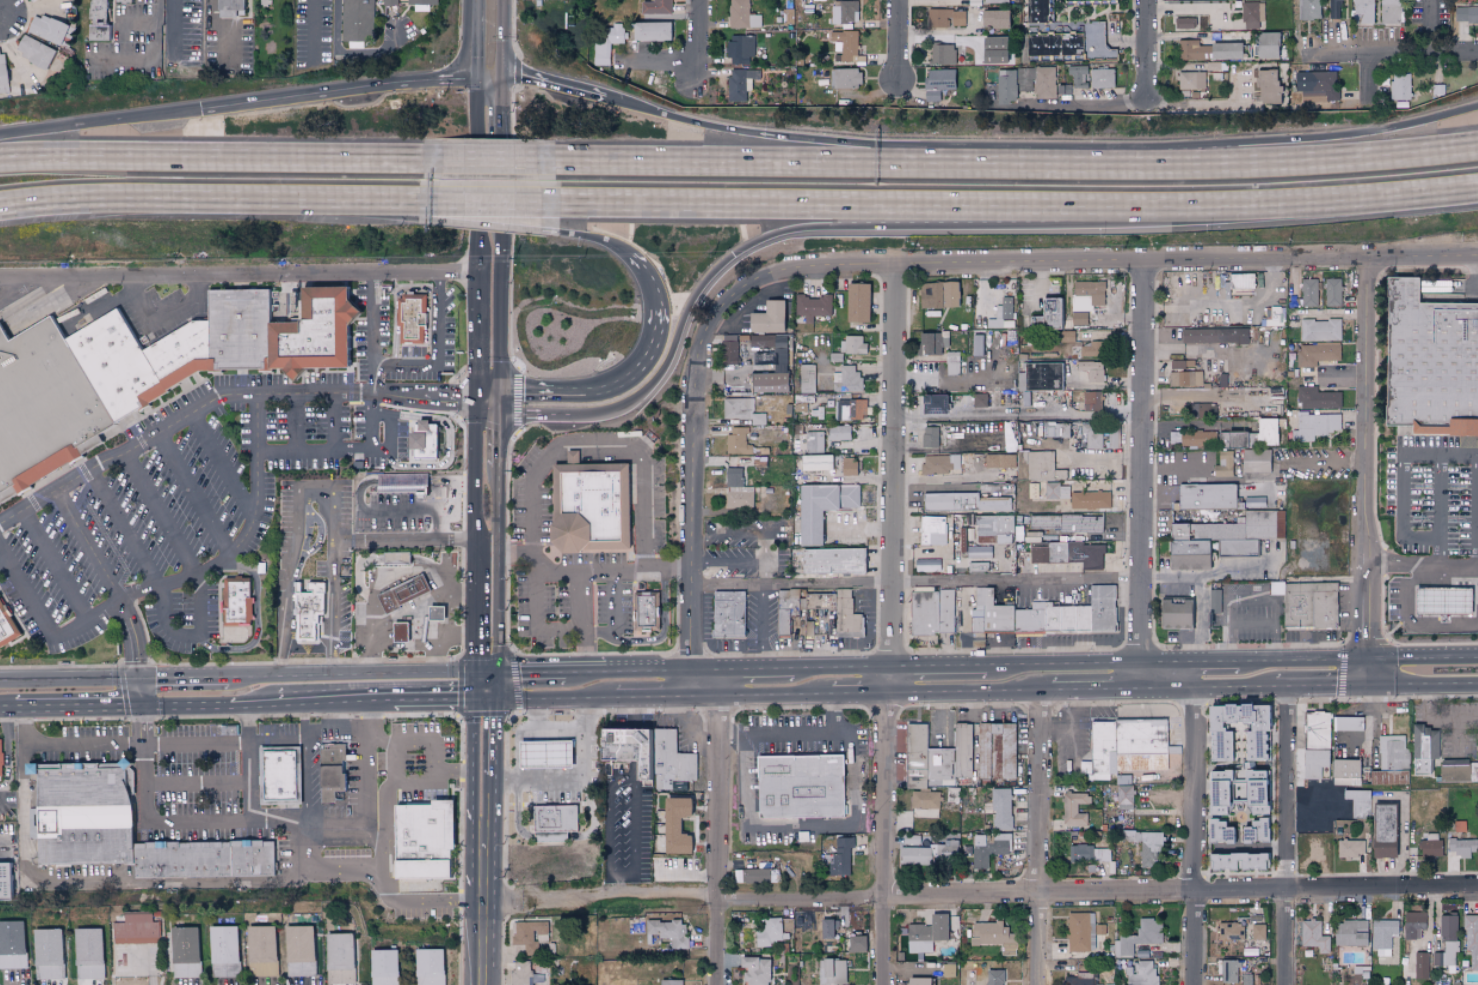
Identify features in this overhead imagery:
building: (942, 0)
building: (1083, 0)
building: (31, 1)
building: (124, 1)
building: (995, 1)
building: (422, 2)
building: (389, 3)
building: (227, 7)
building: (655, 7)
road: (1183, 9)
building: (1333, 9)
building: (1308, 10)
building: (1035, 11)
building: (843, 12)
building: (1377, 12)
building: (741, 15)
building: (1251, 15)
building: (1467, 15)
building: (945, 18)
building: (994, 19)
building: (357, 20)
building: (98, 22)
road: (138, 23)
building: (1184, 23)
parking lot: (1427, 24)
building: (565, 26)
road: (1430, 27)
building: (46, 29)
road: (231, 29)
building: (650, 32)
road: (314, 33)
road: (172, 35)
road: (490, 37)
road: (698, 40)
road: (897, 40)
building: (1095, 41)
building: (607, 42)
building: (1070, 44)
building: (845, 45)
building: (988, 45)
building: (1042, 45)
road: (1144, 46)
building: (1266, 46)
building: (1194, 47)
building: (1179, 48)
building: (740, 49)
building: (34, 51)
building: (1224, 51)
building: (942, 55)
road: (1391, 55)
road: (348, 56)
road: (153, 59)
building: (2, 72)
building: (1078, 76)
building: (1101, 78)
building: (845, 79)
building: (1024, 79)
building: (1190, 80)
building: (1044, 82)
building: (937, 83)
building: (739, 84)
building: (1317, 84)
building: (1005, 86)
building: (1266, 87)
building: (1399, 87)
building: (1064, 89)
road: (345, 91)
road: (1102, 104)
road: (1207, 107)
road: (100, 123)
road: (502, 124)
road: (780, 137)
road: (1328, 138)
road: (229, 159)
road: (489, 161)
road: (1328, 161)
road: (798, 163)
road: (1128, 164)
road: (475, 169)
road: (1473, 190)
road: (1473, 190)
road: (153, 196)
road: (384, 199)
road: (489, 200)
road: (1279, 202)
road: (803, 203)
road: (385, 209)
road: (493, 222)
road: (789, 232)
road: (574, 235)
road: (1144, 262)
road: (238, 275)
road: (647, 277)
building: (1243, 280)
road: (502, 286)
road: (18, 289)
road: (1041, 289)
building: (1332, 291)
building: (1308, 292)
building: (938, 293)
building: (1087, 295)
building: (856, 301)
road: (746, 302)
building: (812, 306)
road: (1225, 306)
building: (1006, 307)
road: (398, 309)
building: (1047, 313)
road: (161, 315)
building: (766, 316)
building: (1274, 316)
building: (413, 318)
building: (1078, 318)
road: (439, 320)
road: (477, 330)
building: (1320, 330)
parking lot: (443, 332)
road: (373, 333)
building: (1214, 335)
building: (1059, 336)
building: (762, 341)
building: (931, 342)
building: (852, 344)
building: (977, 344)
building: (1090, 349)
building: (729, 350)
building: (1317, 354)
building: (952, 363)
building: (1177, 364)
building: (1433, 364)
road: (407, 367)
road: (641, 367)
building: (1091, 370)
building: (144, 373)
building: (1040, 376)
building: (807, 378)
building: (846, 378)
building: (1184, 378)
building: (769, 379)
road: (537, 391)
road: (431, 395)
building: (1316, 398)
building: (979, 400)
building: (1087, 400)
road: (489, 403)
building: (932, 403)
building: (852, 408)
building: (1203, 409)
building: (741, 410)
road: (532, 416)
road: (1018, 418)
road: (336, 422)
road: (176, 423)
road: (296, 423)
building: (1317, 427)
building: (1055, 429)
building: (838, 432)
road: (372, 434)
building: (420, 435)
building: (1091, 435)
building: (1112, 435)
building: (1252, 435)
building: (929, 436)
building: (1192, 438)
road: (389, 440)
building: (737, 440)
building: (811, 441)
road: (489, 442)
road: (695, 449)
road: (297, 453)
building: (1000, 460)
building: (1255, 460)
road: (1369, 460)
building: (814, 461)
building: (939, 464)
building: (1223, 464)
building: (1036, 465)
building: (848, 466)
road: (1332, 466)
road: (222, 468)
road: (1142, 475)
building: (733, 477)
road: (893, 477)
road: (1402, 479)
road: (533, 481)
building: (411, 484)
road: (316, 488)
road: (952, 489)
building: (1056, 491)
road: (193, 496)
building: (1207, 498)
building: (739, 499)
building: (1089, 499)
building: (1253, 502)
building: (952, 504)
building: (821, 506)
road: (417, 508)
building: (591, 508)
road: (1439, 512)
road: (161, 514)
building: (1021, 521)
building: (1068, 522)
road: (488, 524)
building: (994, 524)
road: (125, 528)
road: (859, 528)
building: (932, 530)
road: (753, 536)
building: (1031, 536)
road: (297, 537)
building: (986, 538)
building: (1220, 538)
road: (411, 540)
road: (89, 545)
road: (510, 554)
building: (1069, 554)
building: (395, 557)
building: (832, 560)
road: (221, 562)
road: (730, 564)
road: (6, 565)
road: (56, 567)
building: (974, 567)
road: (1423, 568)
road: (335, 570)
road: (435, 573)
road: (992, 580)
building: (1258, 587)
road: (468, 588)
road: (28, 590)
building: (402, 592)
road: (1254, 598)
building: (1214, 600)
building: (1440, 600)
building: (238, 602)
gas station: (1445, 602)
road: (203, 603)
building: (799, 605)
building: (1311, 608)
building: (1104, 610)
building: (930, 611)
building: (433, 612)
building: (648, 612)
building: (845, 612)
building: (308, 614)
building: (1178, 614)
building: (730, 616)
building: (997, 616)
building: (1217, 619)
road: (582, 620)
building: (1053, 620)
building: (1068, 620)
building: (1083, 620)
road: (1200, 620)
building: (1029, 621)
road: (1254, 624)
road: (167, 625)
road: (764, 625)
road: (1414, 625)
building: (7, 626)
road: (488, 627)
road: (283, 628)
building: (808, 628)
building: (397, 631)
road: (574, 633)
road: (468, 636)
road: (135, 637)
road: (437, 658)
road: (1423, 658)
traffic signals: (1368, 660)
road: (1302, 661)
road: (334, 662)
road: (1188, 662)
road: (1064, 663)
road: (939, 665)
road: (843, 666)
road: (744, 667)
road: (648, 668)
road: (584, 669)
road: (526, 671)
traffic signals: (488, 672)
road: (357, 673)
road: (1368, 674)
road: (183, 676)
traffic signals: (139, 678)
road: (69, 679)
road: (488, 688)
road: (1423, 688)
road: (1207, 689)
road: (1322, 689)
traffic signals: (1368, 689)
road: (861, 690)
road: (971, 690)
road: (1096, 690)
road: (762, 693)
road: (652, 697)
road: (550, 701)
road: (443, 703)
road: (335, 704)
traffic signals: (488, 704)
road: (206, 705)
traffic signals: (141, 707)
road: (73, 708)
road: (3, 711)
road: (141, 711)
road: (338, 715)
road: (367, 715)
road: (945, 717)
road: (1436, 721)
road: (690, 723)
building: (1347, 723)
road: (249, 724)
road: (305, 724)
road: (1058, 725)
road: (1074, 726)
road: (24, 728)
building: (1317, 730)
road: (797, 731)
road: (487, 739)
road: (1456, 741)
road: (200, 744)
road: (402, 744)
building: (1255, 745)
building: (1127, 746)
building: (1423, 747)
building: (964, 748)
building: (997, 750)
building: (1393, 752)
building: (646, 753)
building: (0, 756)
building: (547, 756)
building: (924, 759)
road: (6, 761)
building: (1314, 762)
road: (439, 764)
building: (1345, 767)
road: (21, 768)
building: (330, 770)
road: (463, 771)
building: (1454, 771)
building: (1474, 771)
road: (368, 772)
building: (1401, 777)
building: (1377, 778)
road: (306, 782)
road: (144, 783)
road: (250, 783)
road: (612, 783)
road: (416, 784)
road: (197, 785)
road: (487, 785)
road: (578, 787)
building: (802, 789)
building: (1236, 790)
road: (386, 793)
road: (1314, 796)
building: (1123, 797)
building: (924, 799)
building: (1358, 802)
building: (1000, 808)
building: (1074, 809)
building: (81, 813)
building: (924, 813)
building: (557, 819)
road: (257, 822)
building: (674, 825)
road: (809, 825)
building: (1459, 826)
building: (1382, 830)
building: (1254, 831)
building: (1219, 832)
road: (1195, 836)
road: (886, 837)
road: (1286, 837)
road: (1040, 838)
road: (719, 840)
building: (426, 841)
building: (1430, 846)
building: (1461, 846)
road: (306, 847)
road: (487, 848)
building: (989, 848)
building: (1148, 848)
building: (1350, 848)
road: (3, 849)
building: (949, 851)
building: (1089, 854)
building: (840, 855)
building: (914, 855)
building: (201, 859)
building: (1236, 861)
road: (345, 873)
building: (754, 876)
building: (6, 880)
road: (128, 883)
road: (624, 888)
road: (386, 893)
road: (1001, 897)
road: (473, 901)
building: (1413, 924)
building: (827, 928)
building: (137, 930)
building: (1227, 931)
building: (665, 932)
building: (1078, 932)
building: (1257, 932)
building: (1350, 932)
building: (769, 933)
building: (530, 934)
building: (925, 934)
building: (992, 934)
building: (1139, 936)
building: (1314, 936)
building: (1383, 936)
building: (1471, 939)
building: (1447, 941)
road: (485, 943)
building: (856, 943)
building: (12, 944)
building: (224, 950)
building: (261, 950)
building: (299, 950)
building: (186, 951)
building: (47, 953)
building: (88, 953)
building: (338, 958)
building: (1420, 965)
building: (428, 966)
building: (383, 967)
road: (139, 969)
building: (755, 970)
building: (832, 971)
building: (1228, 971)
building: (948, 974)
building: (1141, 974)
building: (993, 977)
building: (1079, 979)
building: (917, 981)
building: (670, 982)

